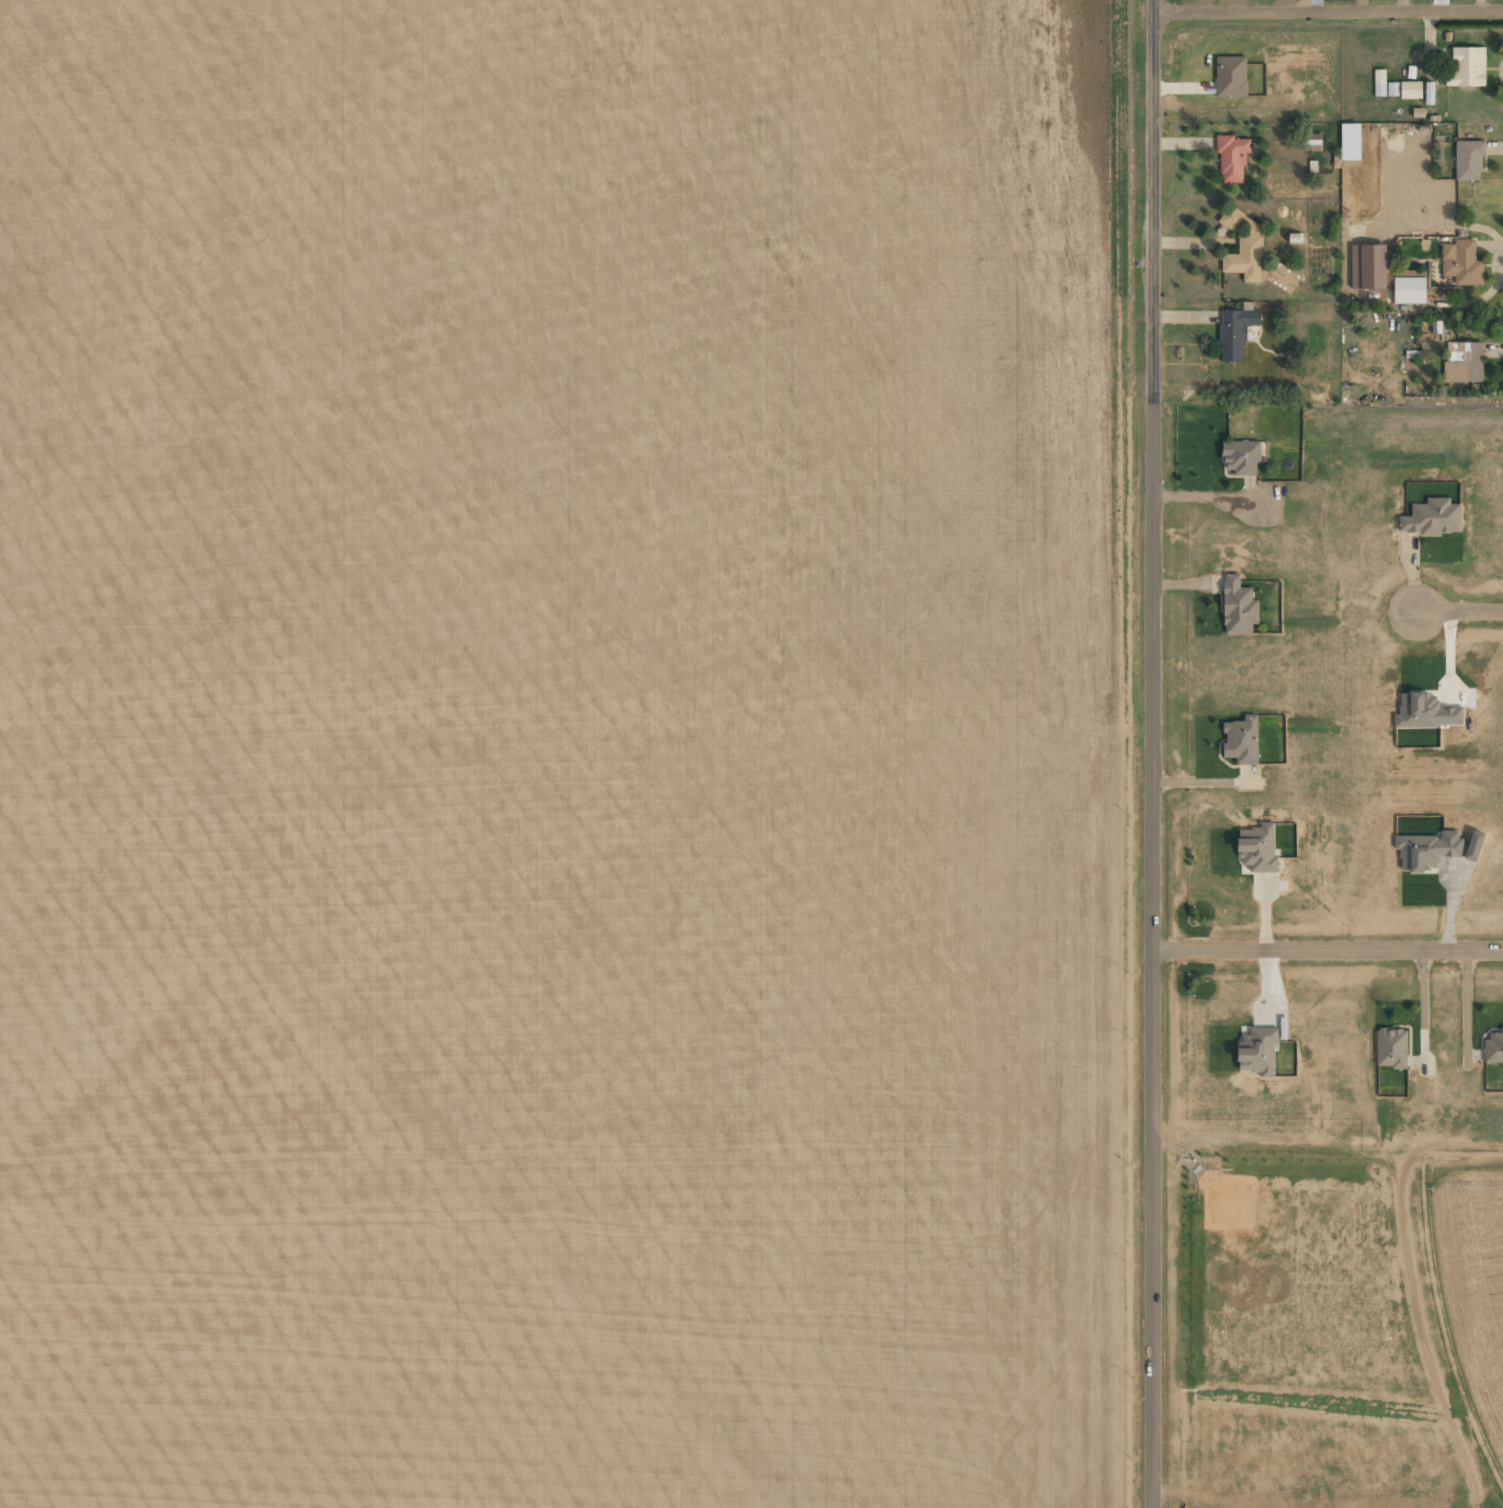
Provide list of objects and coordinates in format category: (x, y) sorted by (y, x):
road: (1328, 10)
building: (1467, 67)
building: (1230, 76)
building: (1379, 82)
building: (1392, 89)
building: (1410, 90)
building: (1429, 94)
building: (1312, 142)
building: (1232, 157)
building: (1468, 160)
road: (1153, 195)
building: (1244, 247)
building: (1461, 262)
building: (1367, 266)
building: (1409, 273)
building: (1283, 278)
building: (1409, 290)
building: (1463, 361)
building: (1240, 457)
building: (1432, 517)
building: (1238, 607)
road: (1456, 612)
building: (1241, 740)
building: (1259, 850)
road: (1153, 950)
road: (1328, 959)
building: (1493, 1047)
building: (1391, 1048)
building: (1258, 1050)

